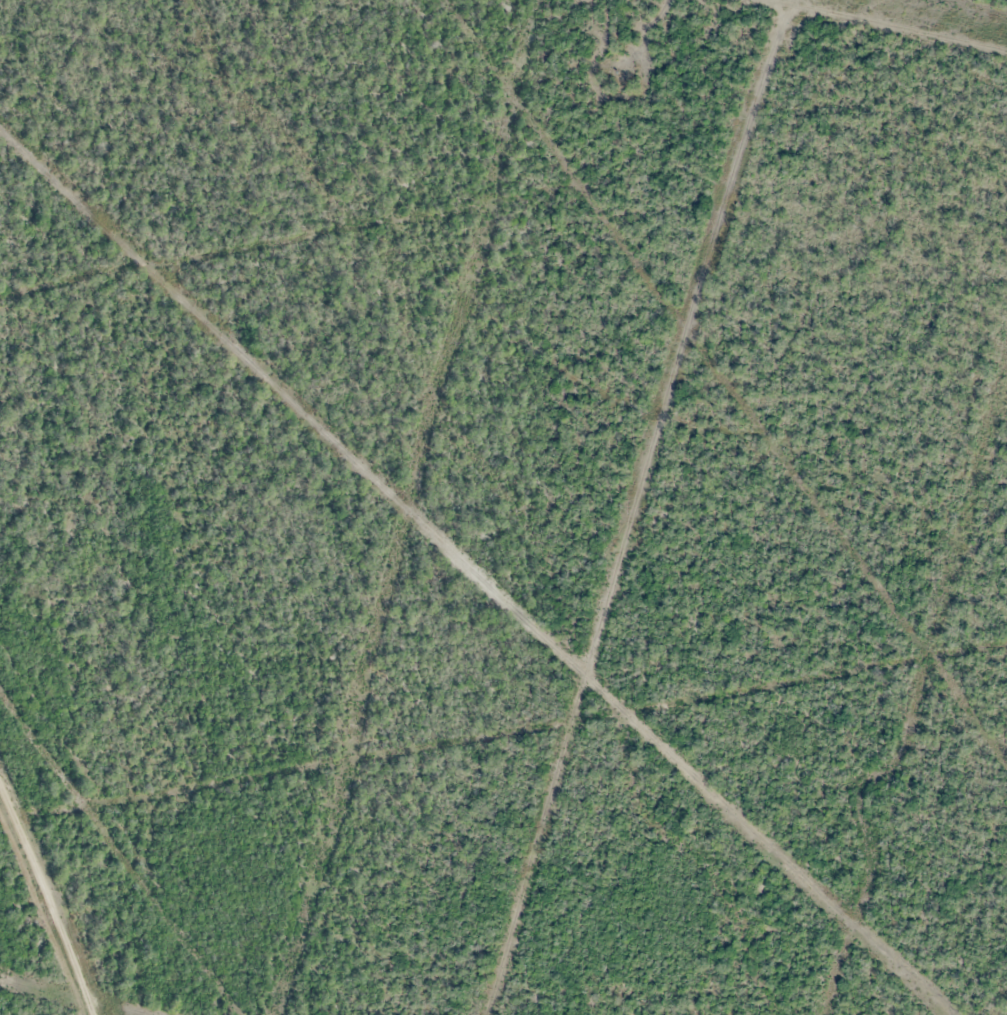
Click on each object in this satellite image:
road: (779, 2)
road: (50, 900)

